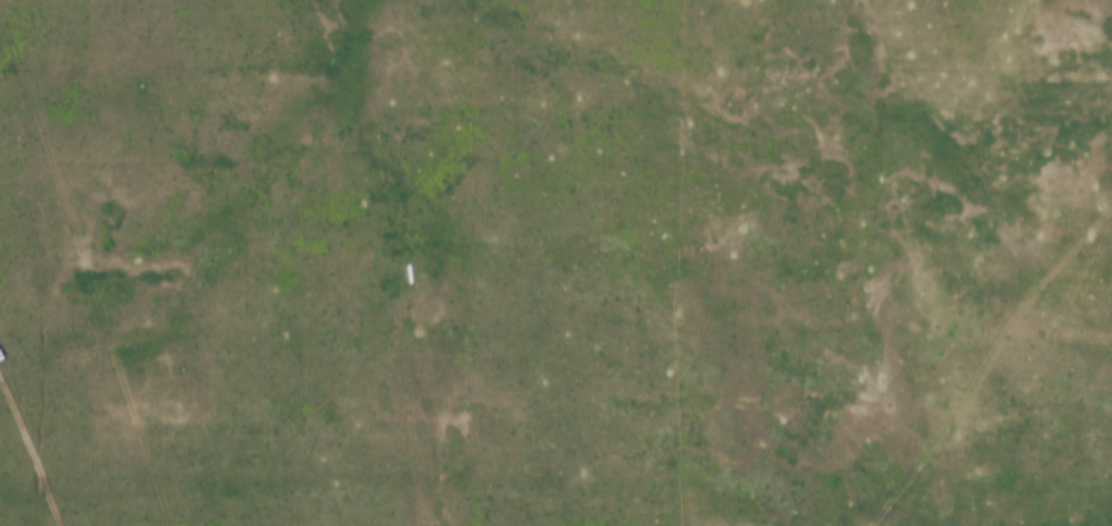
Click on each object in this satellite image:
road: (982, 360)

